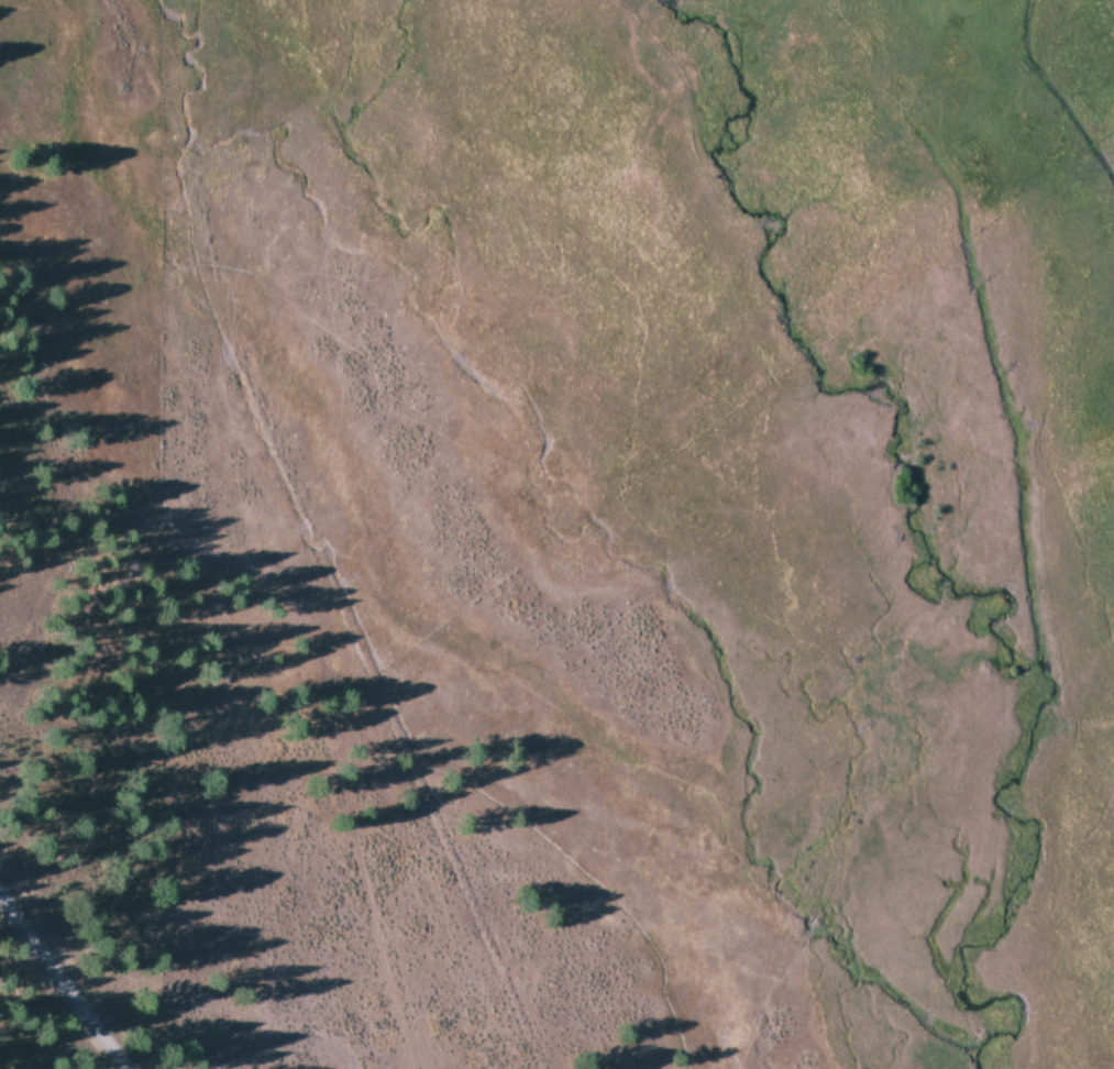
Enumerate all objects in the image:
road: (75, 954)

